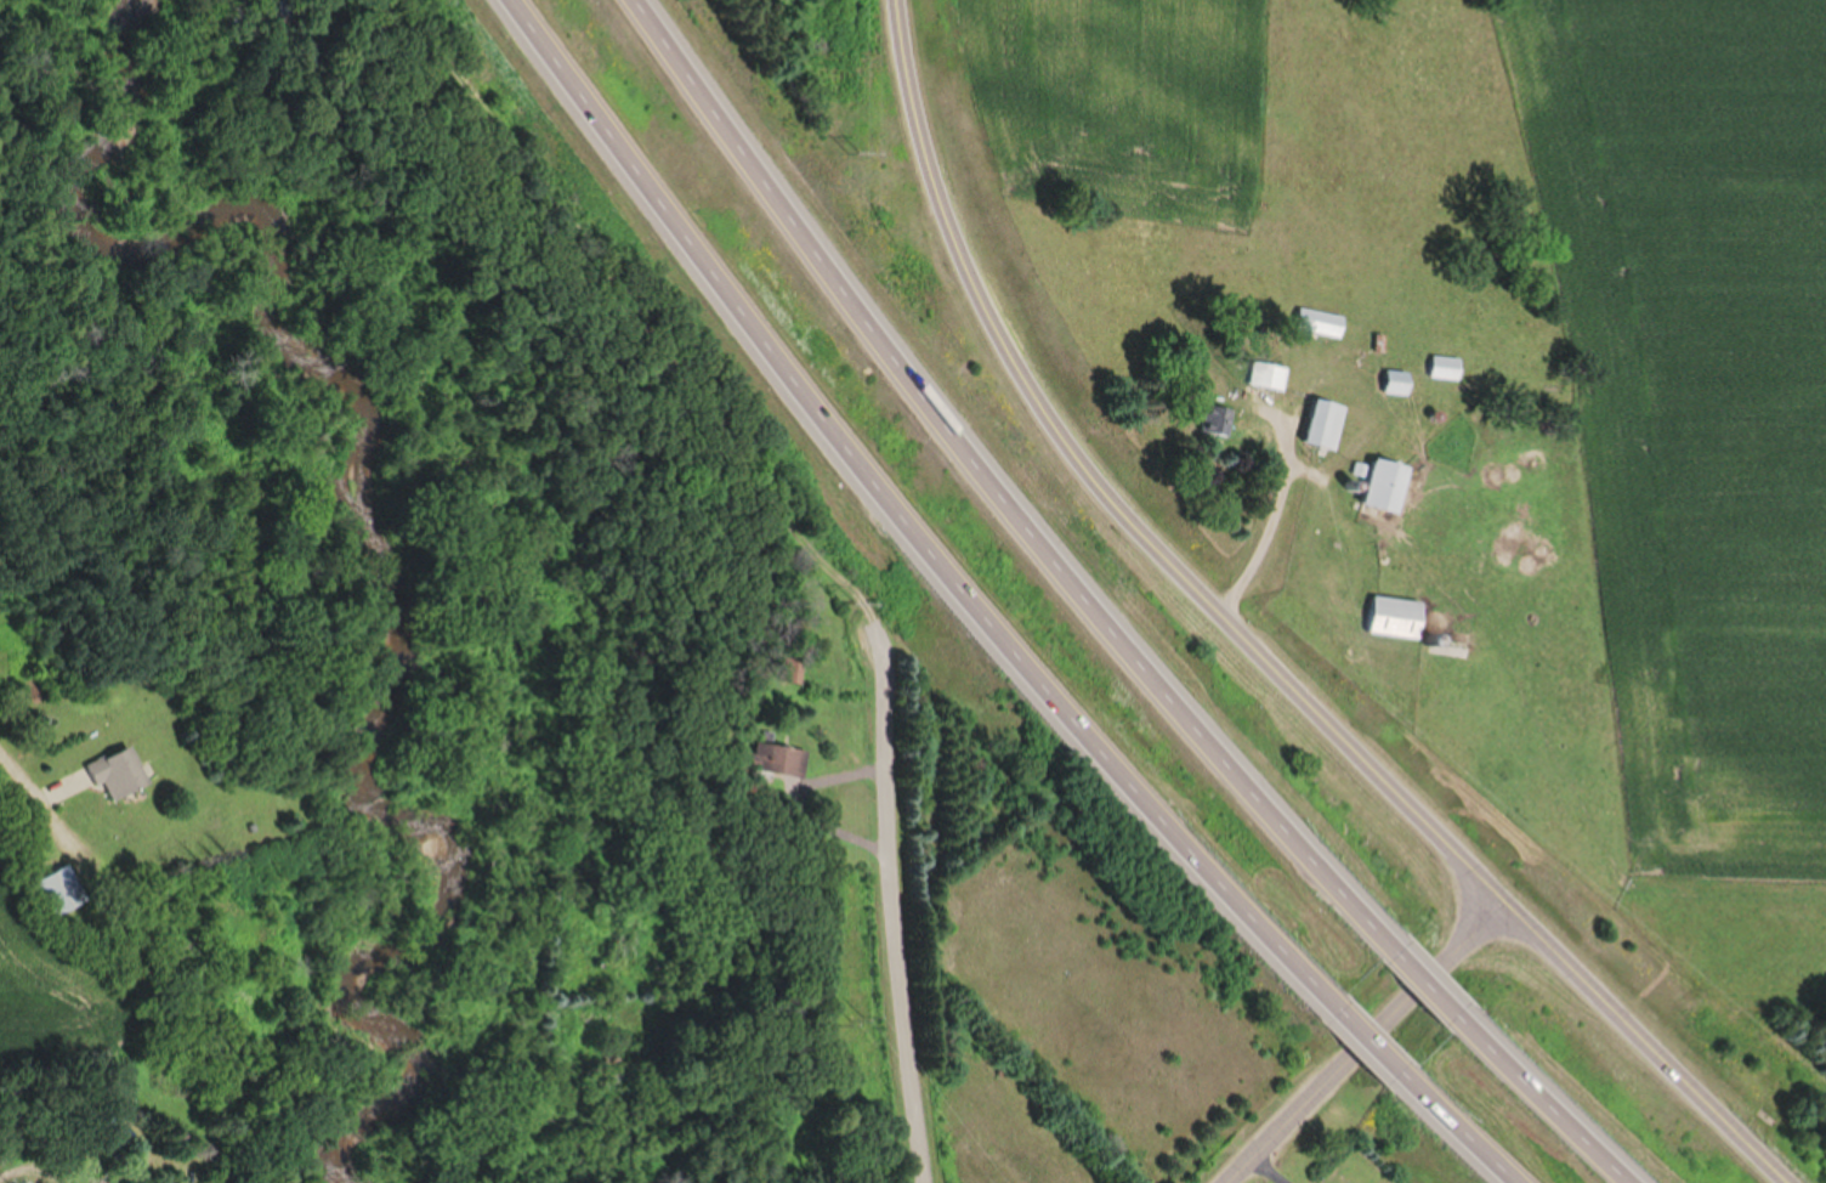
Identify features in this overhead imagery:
power tower: (851, 153)
building: (1319, 321)
building: (1444, 367)
building: (1265, 379)
building: (1396, 381)
building: (1218, 415)
building: (1322, 429)
road: (992, 485)
building: (1382, 491)
road: (1117, 499)
road: (902, 514)
road: (1264, 523)
power tower: (851, 601)
building: (1395, 618)
building: (799, 667)
building: (776, 755)
building: (106, 770)
road: (22, 779)
building: (50, 889)
road: (889, 900)
road: (1435, 987)
power tower: (850, 1020)
road: (1368, 1042)
road: (1651, 1042)
road: (1355, 1048)
road: (1553, 1114)
road: (1447, 1139)
road: (1265, 1171)

